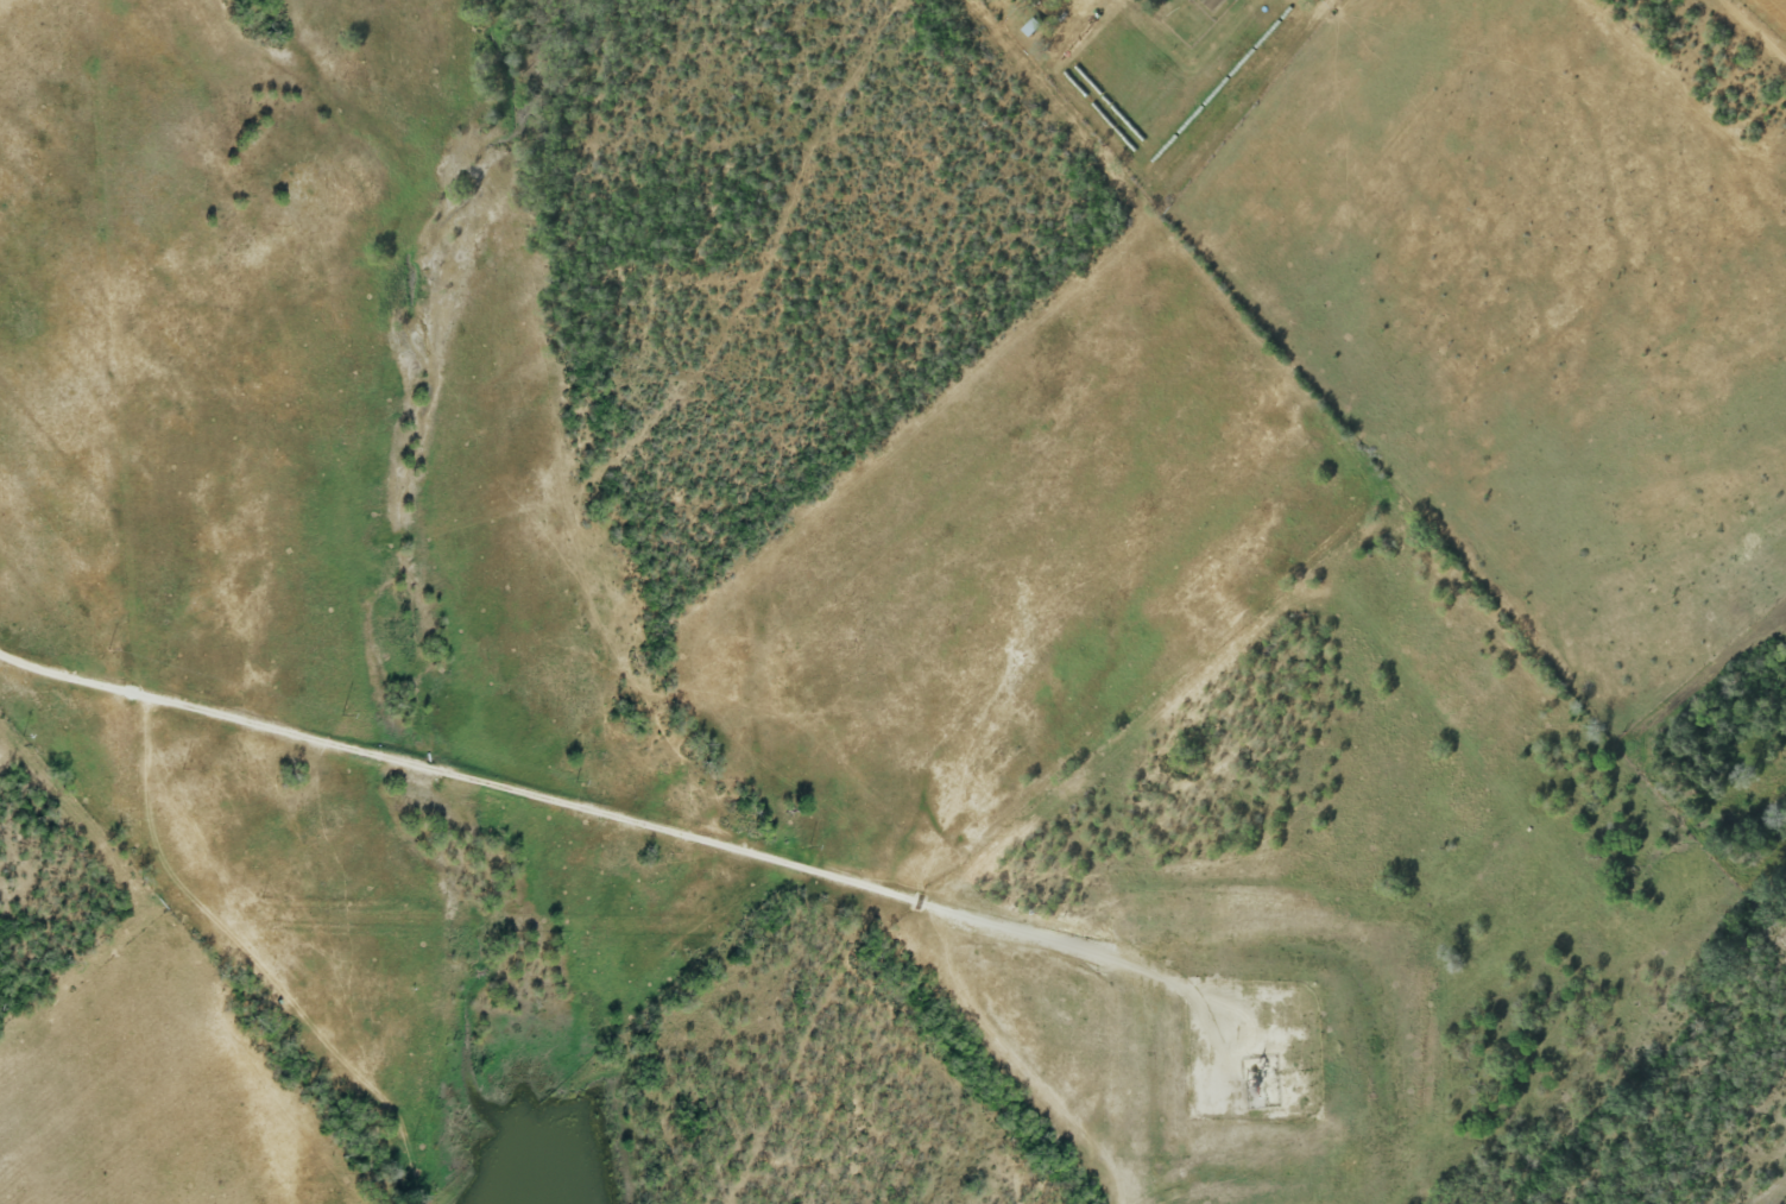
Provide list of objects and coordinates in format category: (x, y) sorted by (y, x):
road: (592, 817)

